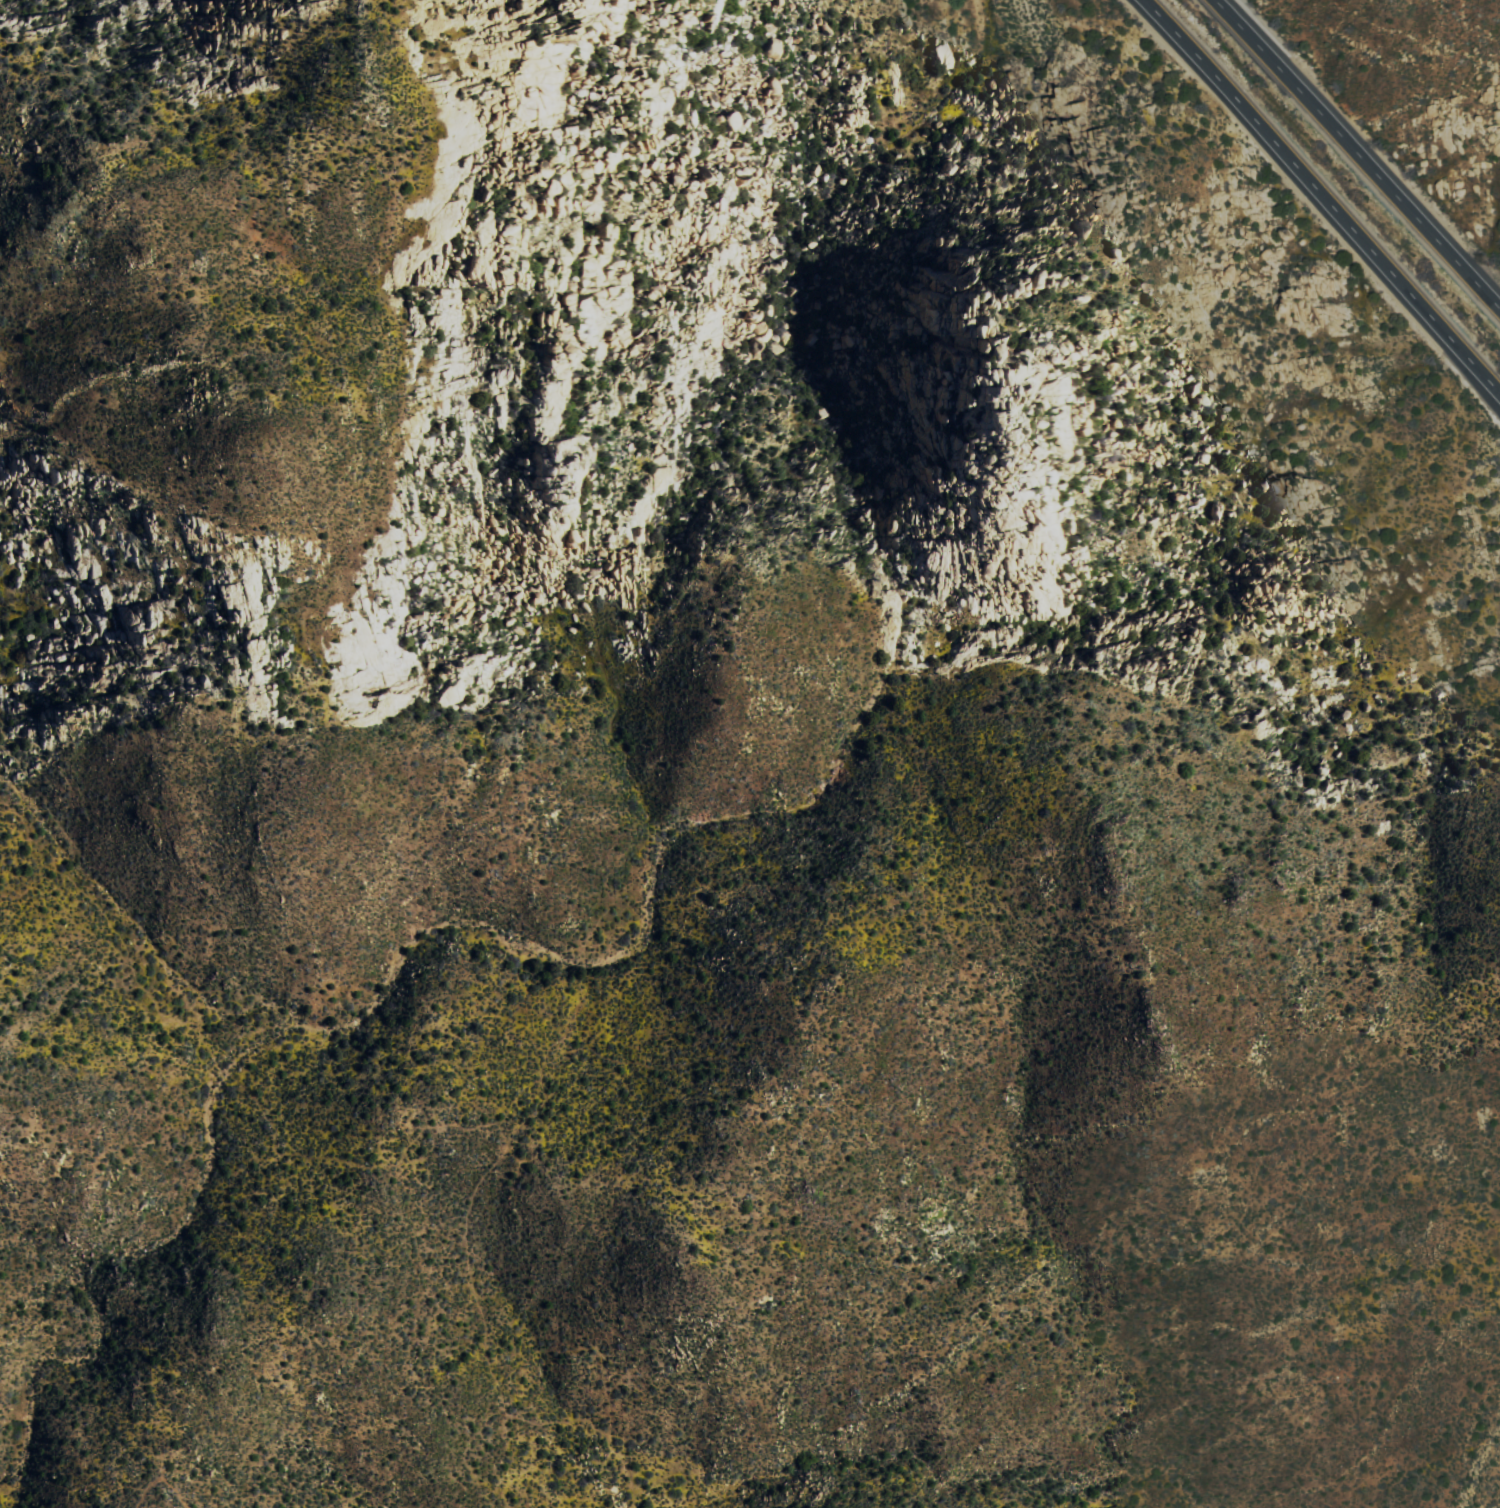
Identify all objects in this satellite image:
road: (1359, 152)
road: (1326, 190)

